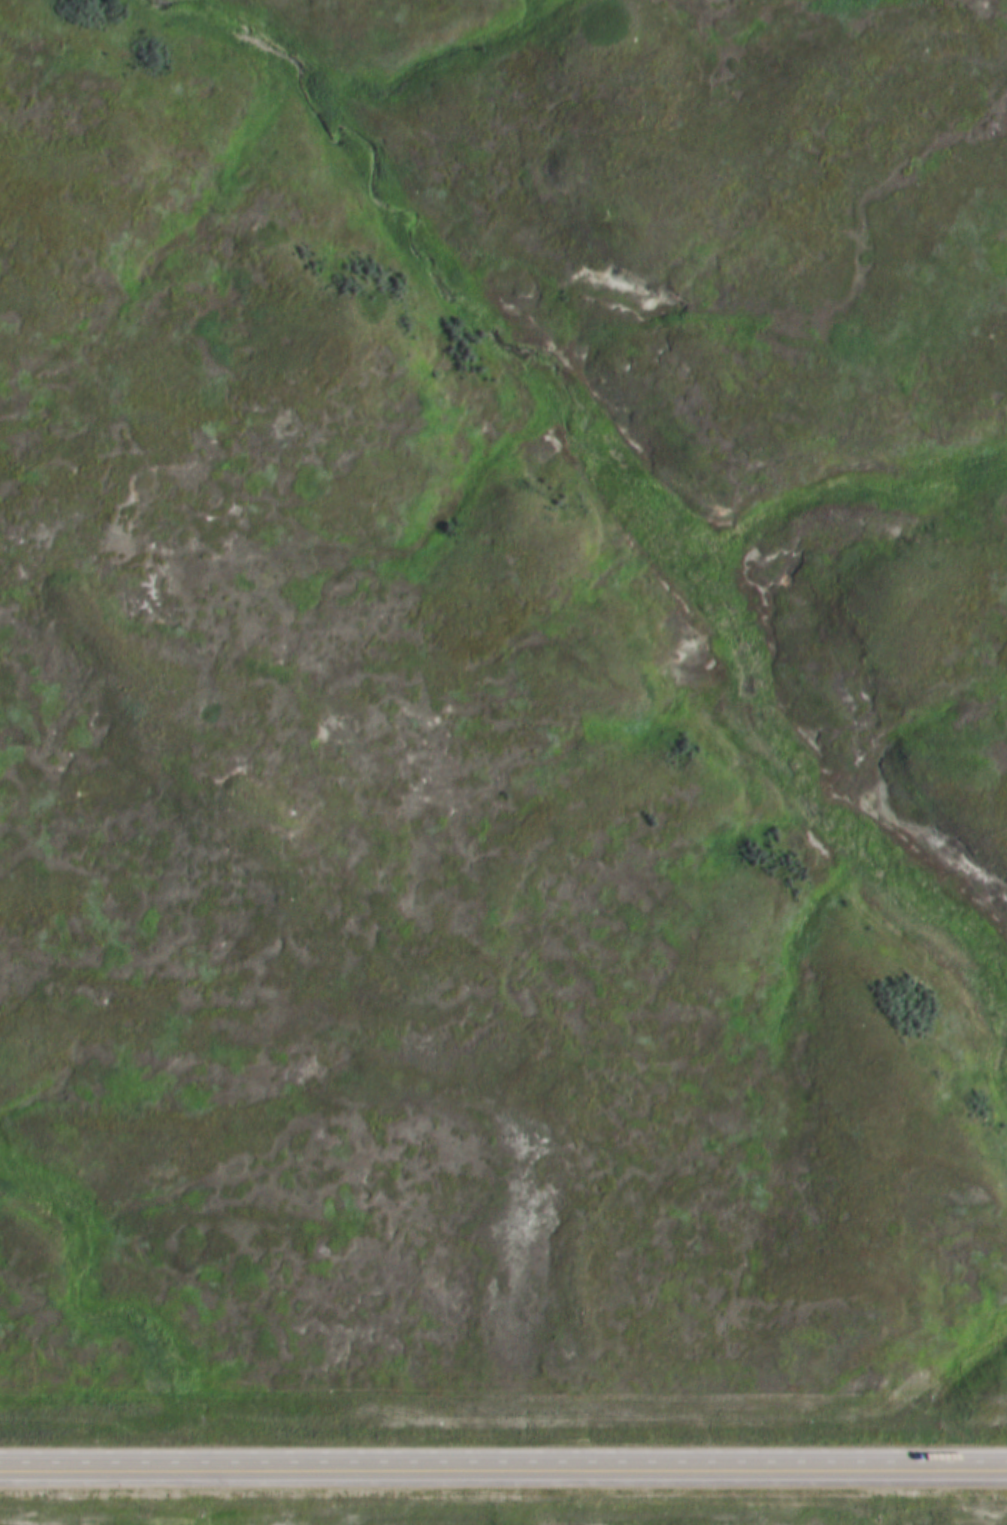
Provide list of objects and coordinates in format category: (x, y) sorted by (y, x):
road: (503, 1473)

